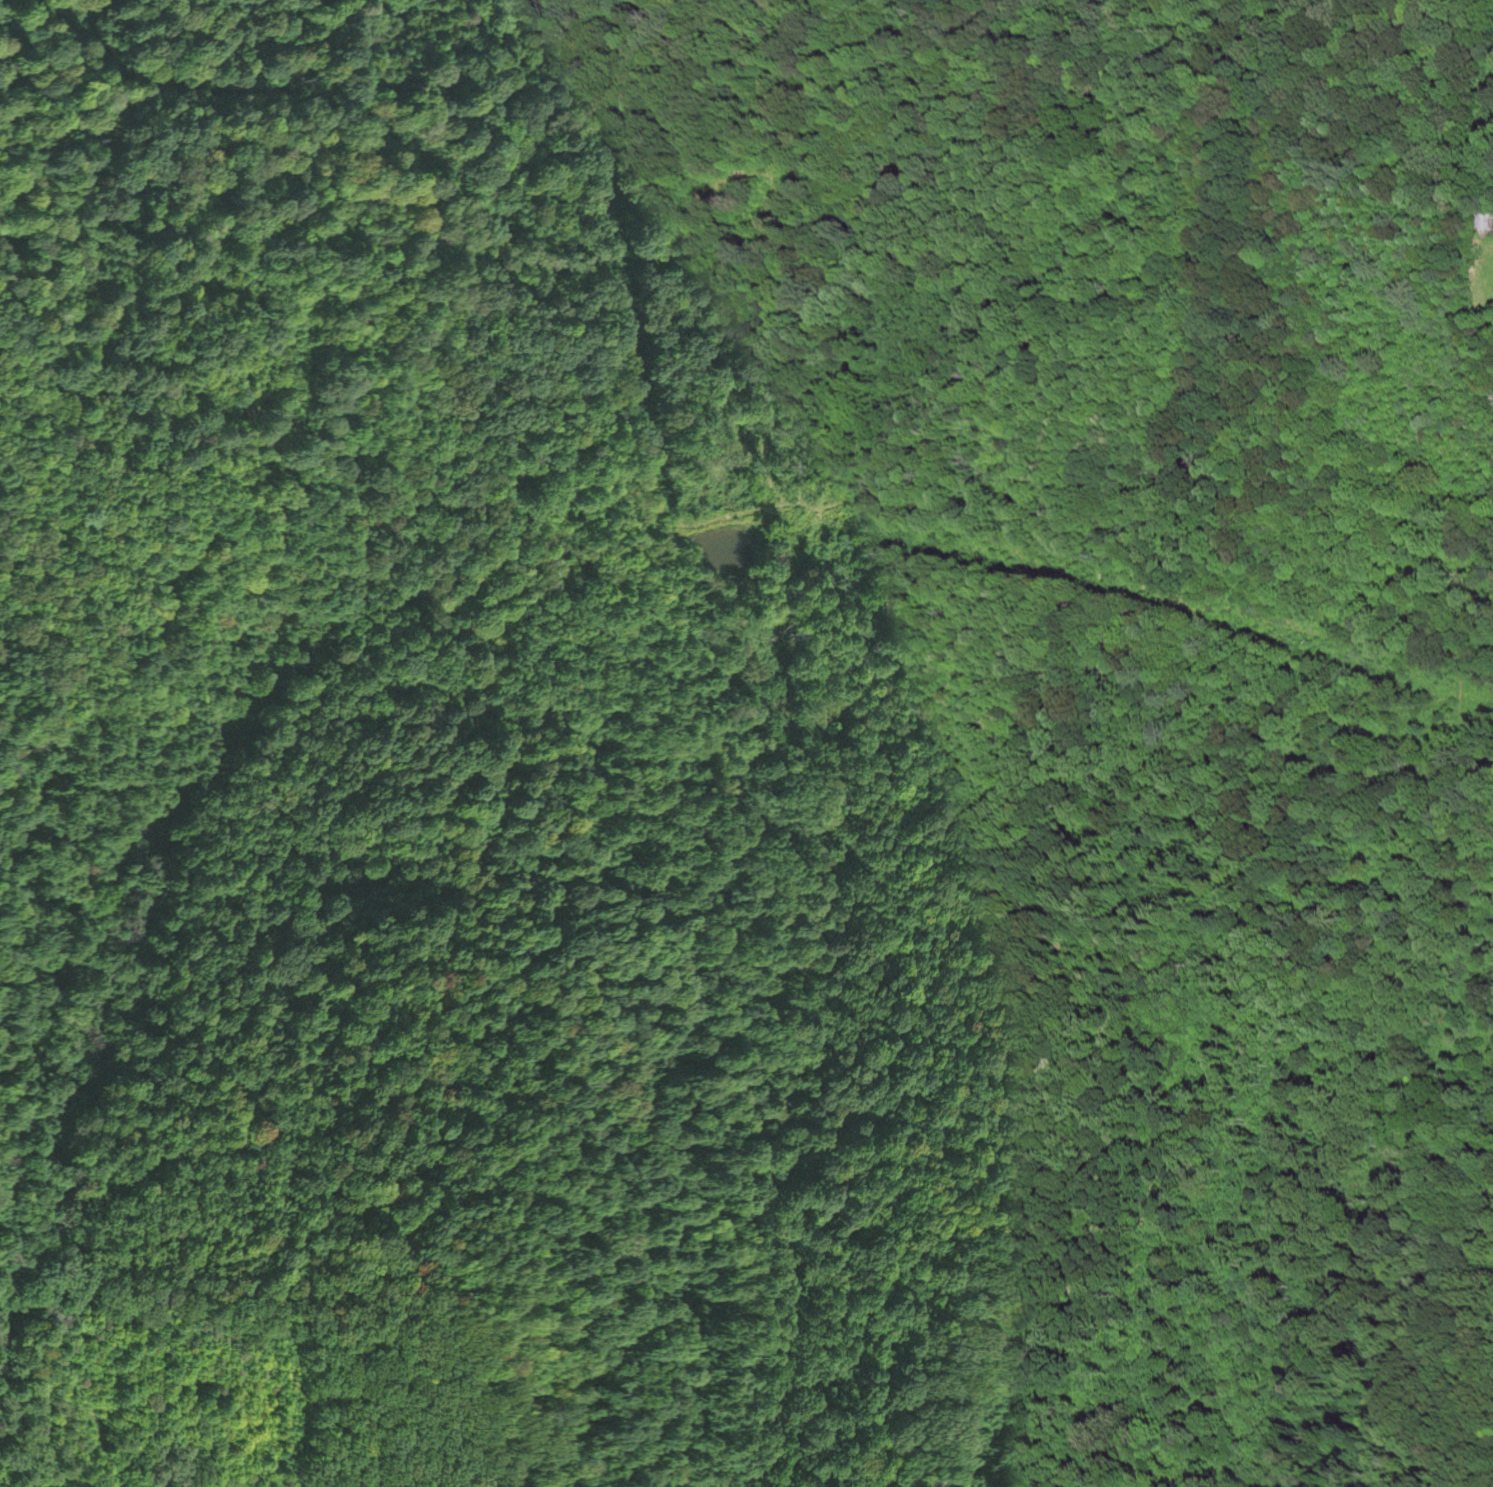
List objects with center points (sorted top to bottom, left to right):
building: (1484, 225)

